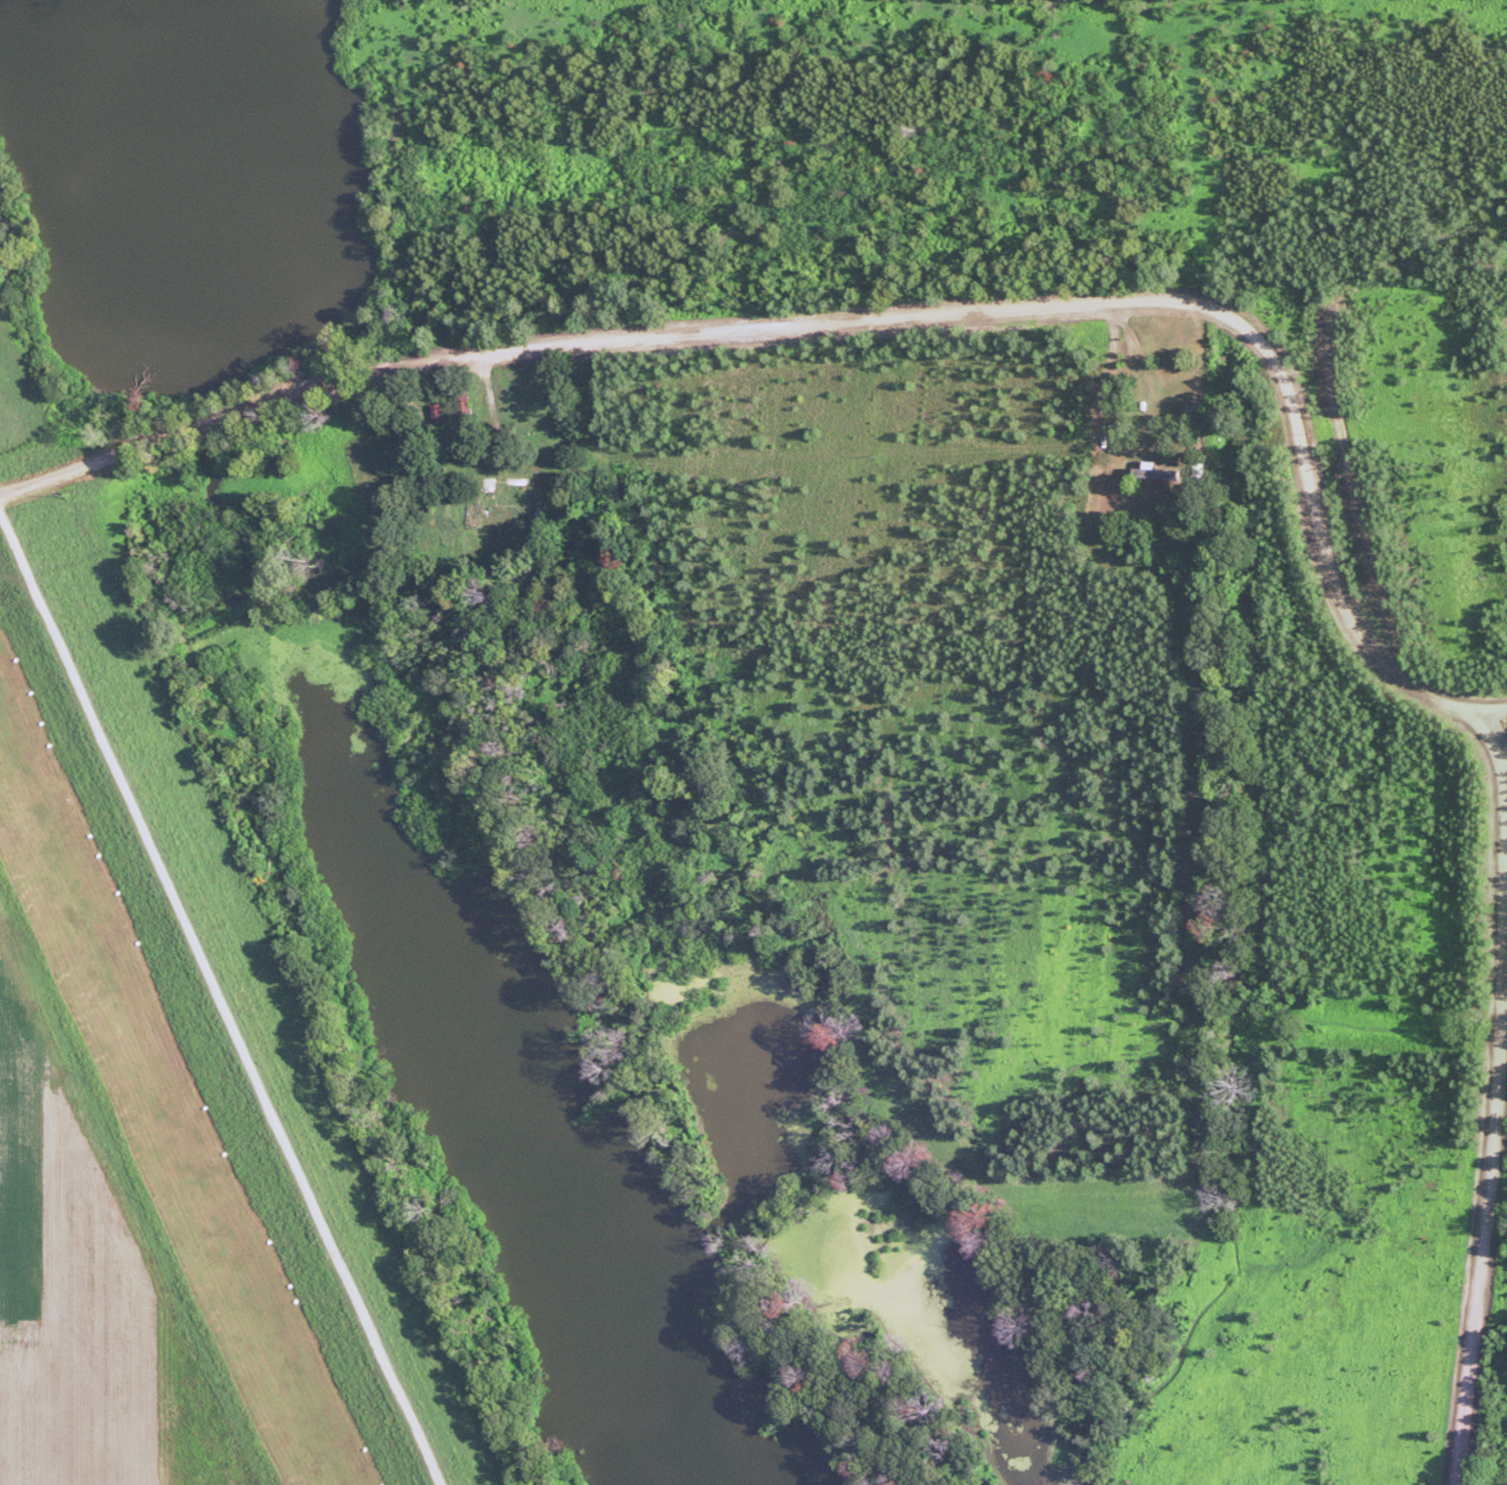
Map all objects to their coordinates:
road: (865, 326)
road: (1480, 728)
road: (218, 999)
road: (1490, 1115)

